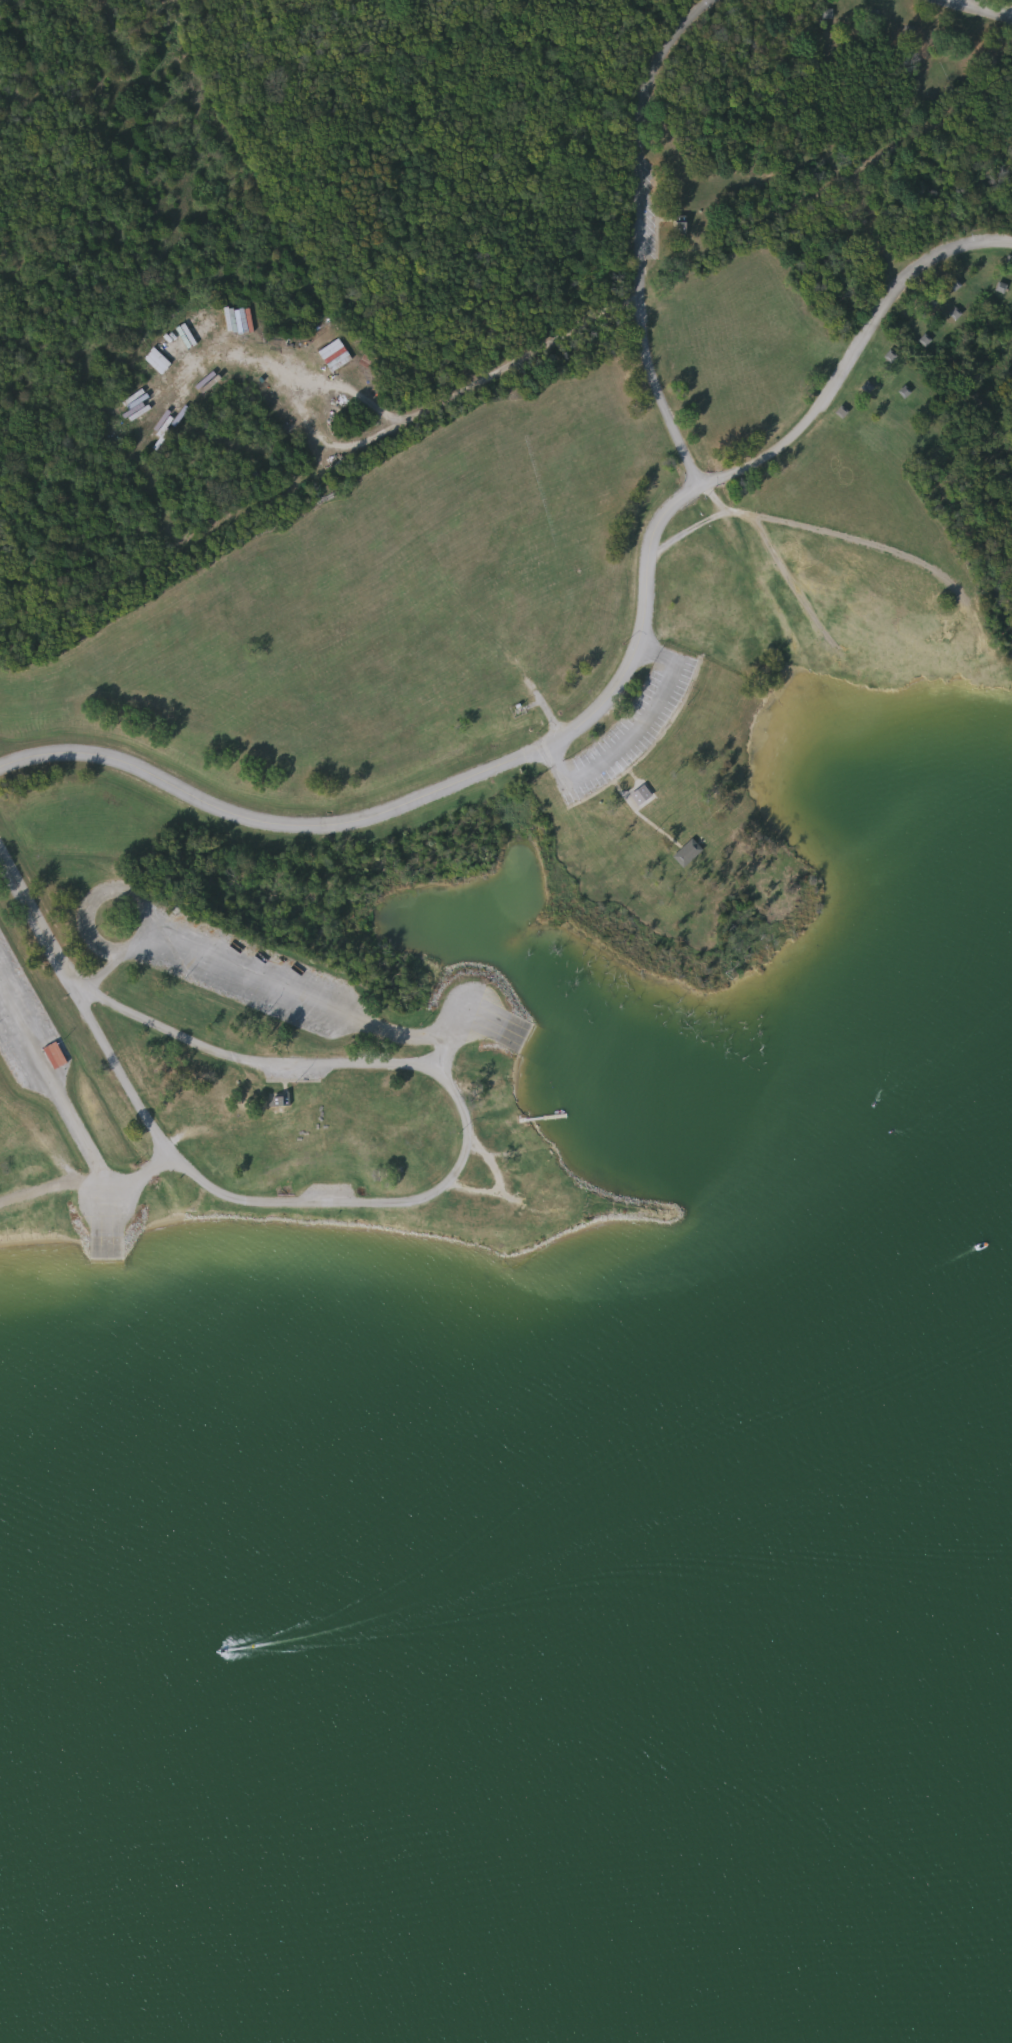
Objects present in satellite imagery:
road: (981, 7)
building: (206, 321)
building: (336, 355)
building: (159, 361)
road: (431, 404)
road: (677, 440)
road: (342, 443)
park: (451, 545)
parking lot: (628, 727)
road: (631, 735)
building: (643, 794)
road: (428, 797)
building: (690, 852)
road: (133, 894)
road: (39, 920)
road: (103, 975)
parking lot: (244, 976)
road: (252, 979)
parking lot: (26, 1025)
road: (30, 1036)
road: (419, 1036)
road: (451, 1040)
parking lot: (297, 1075)
building: (281, 1100)
road: (101, 1176)
road: (452, 1176)
parking lot: (330, 1192)

